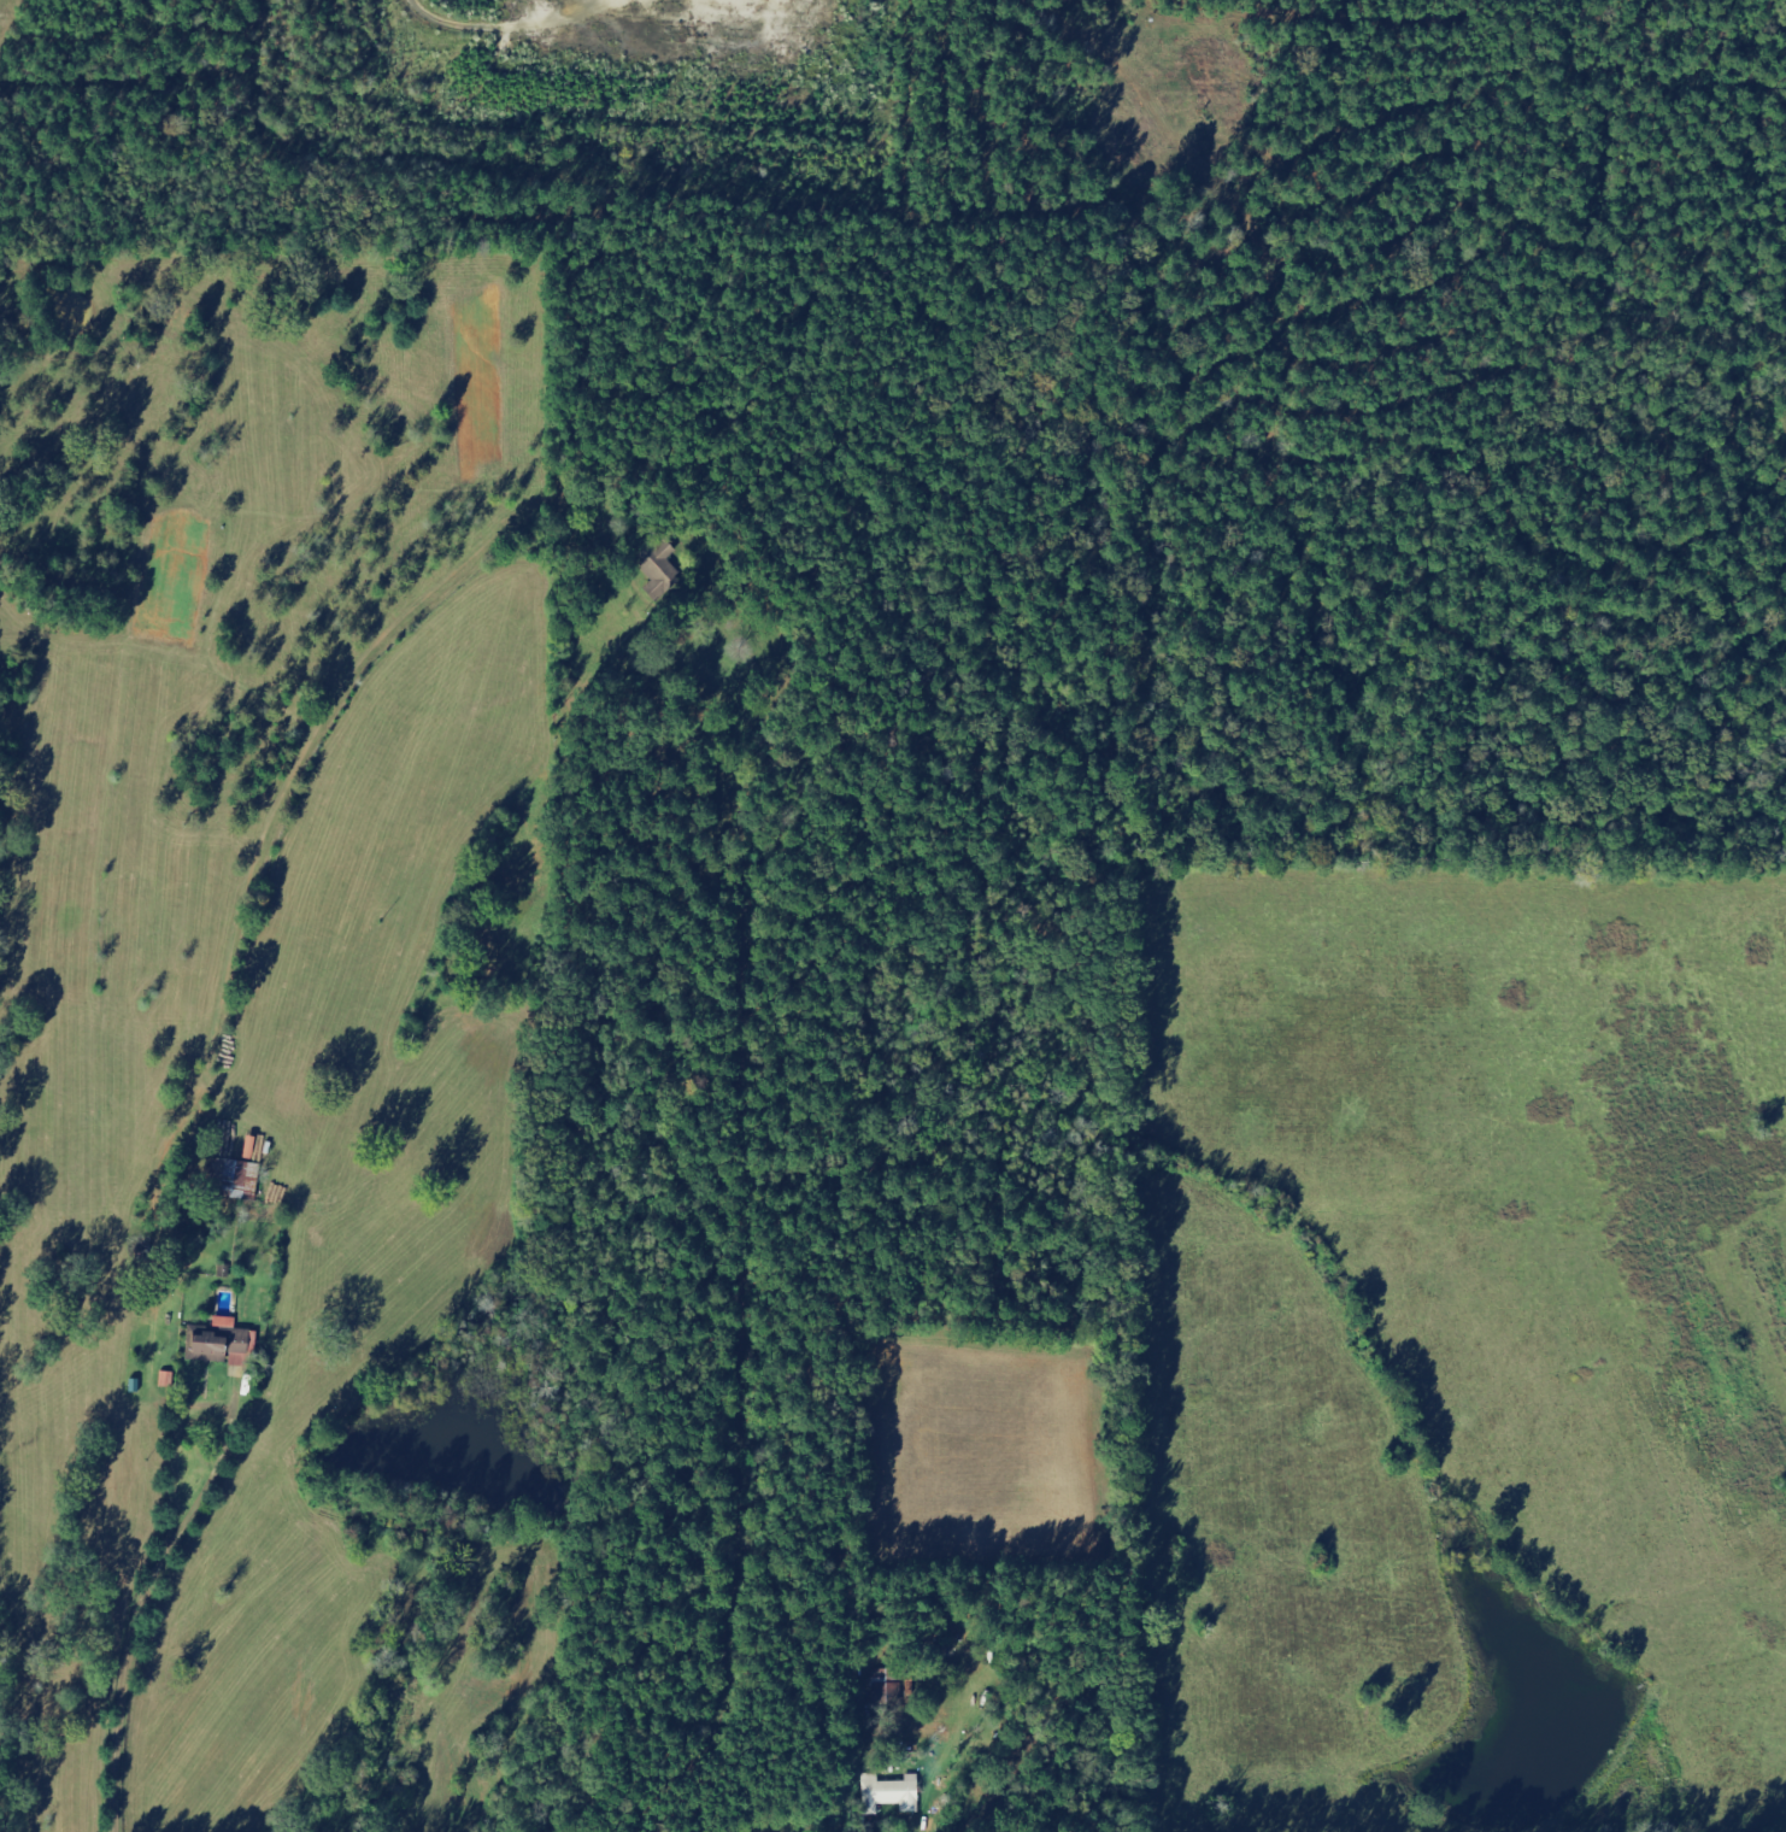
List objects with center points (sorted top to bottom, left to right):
road: (13, 29)
building: (654, 565)
building: (237, 1181)
building: (223, 1345)
road: (692, 1522)
road: (47, 1737)
building: (892, 1795)

